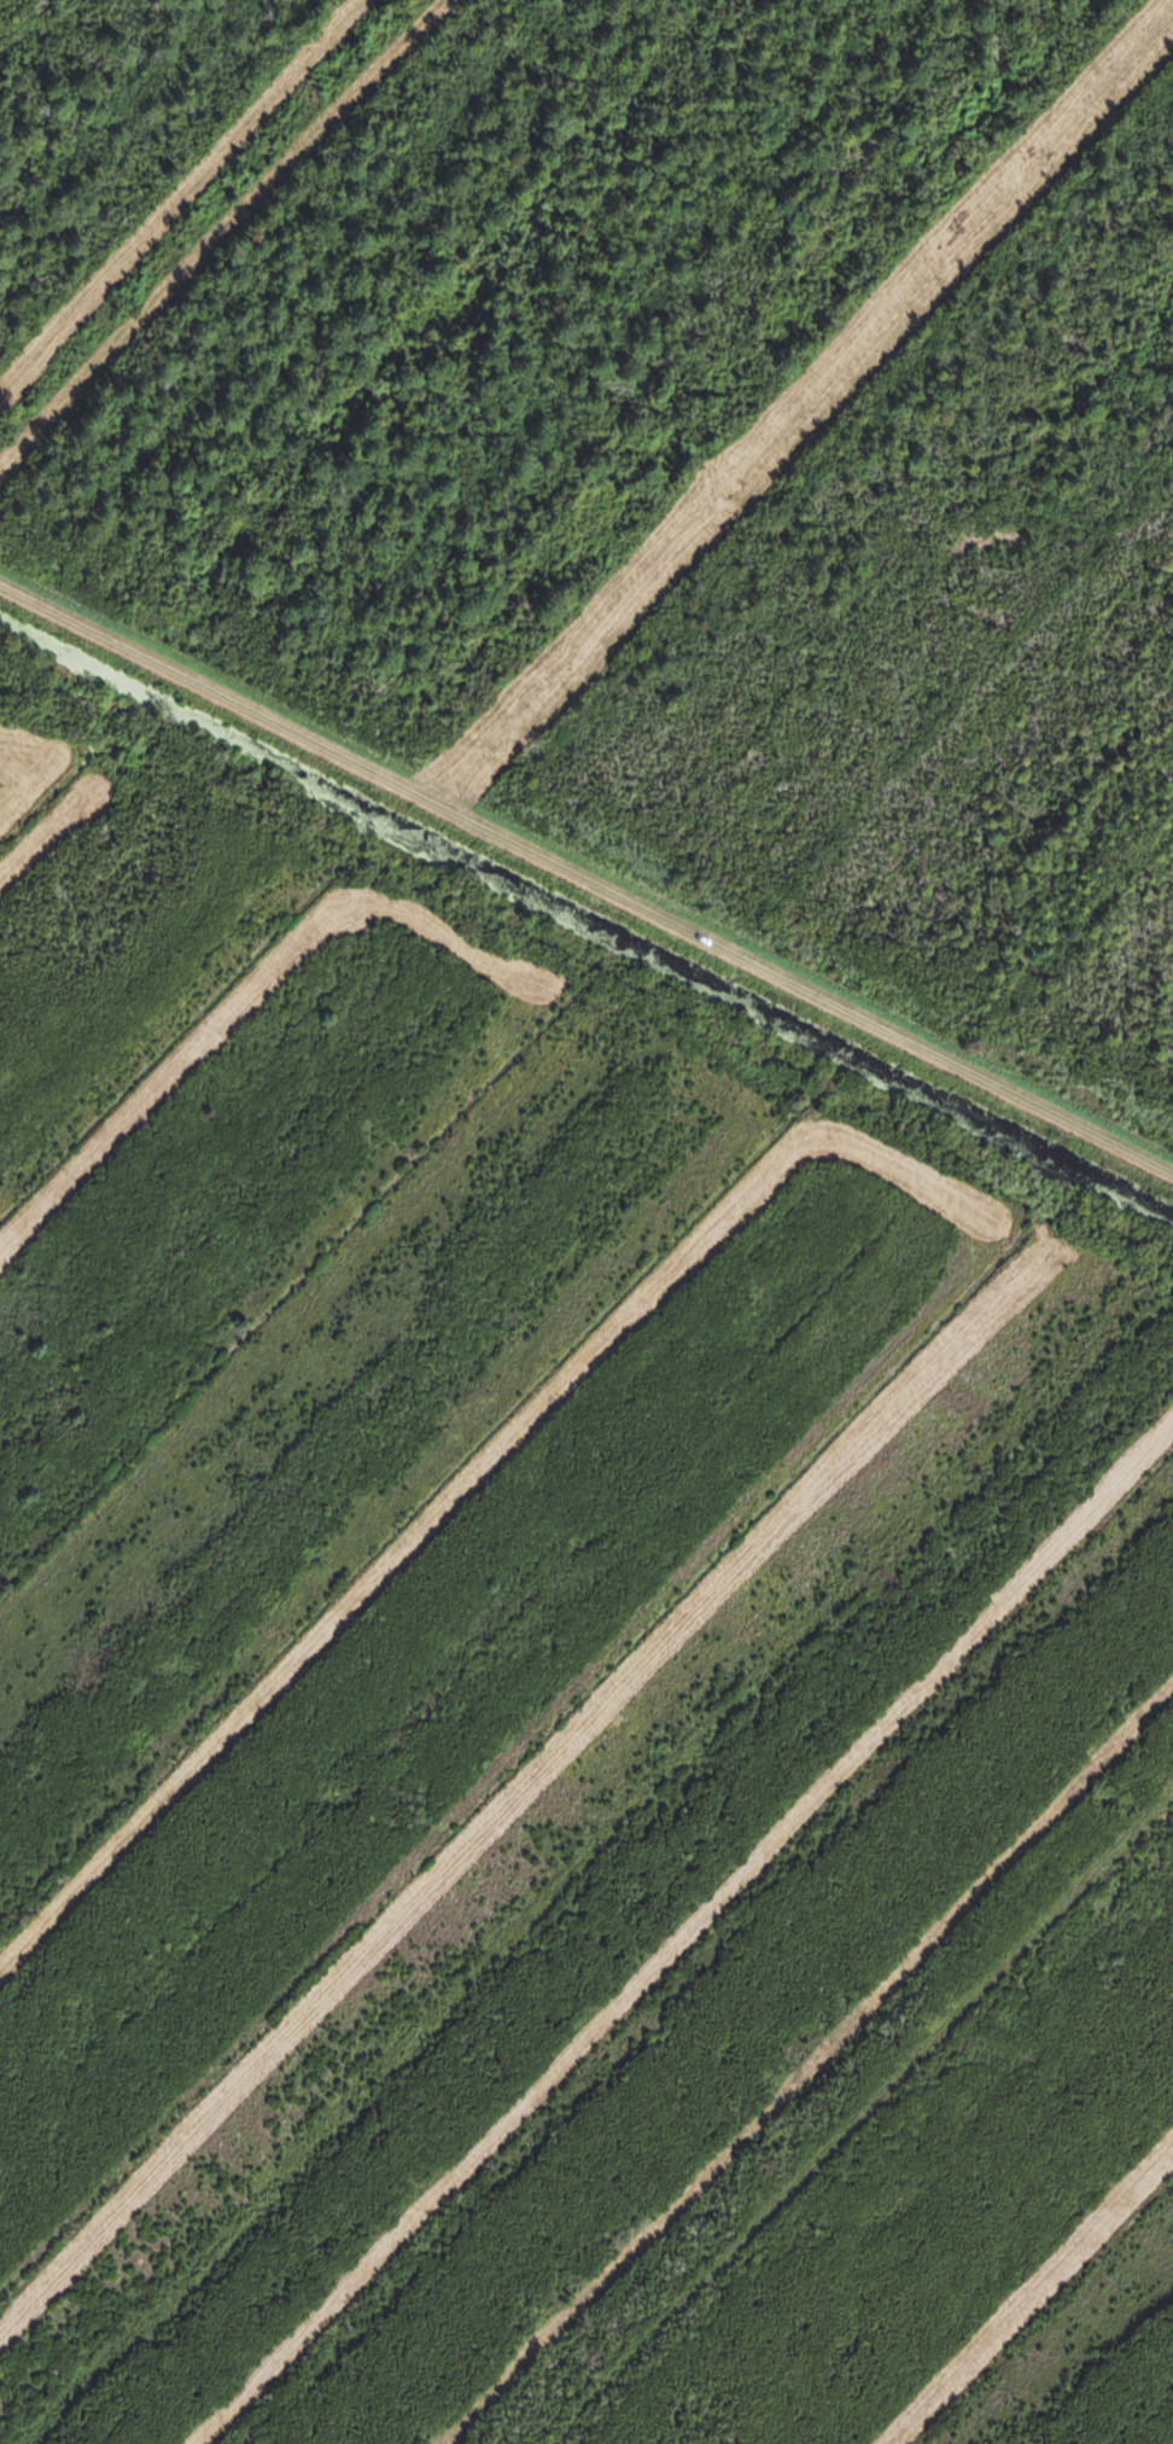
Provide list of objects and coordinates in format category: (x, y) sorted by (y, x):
road: (586, 884)

